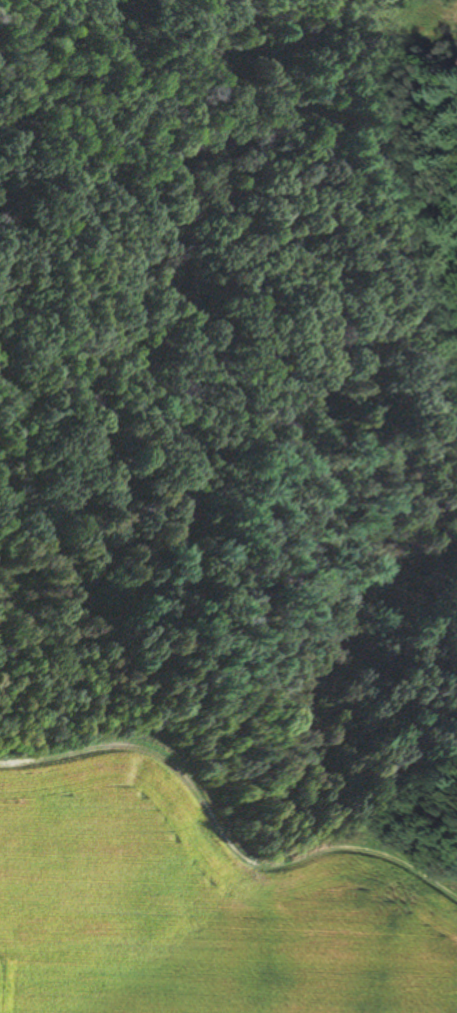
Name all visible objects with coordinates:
road: (215, 836)

